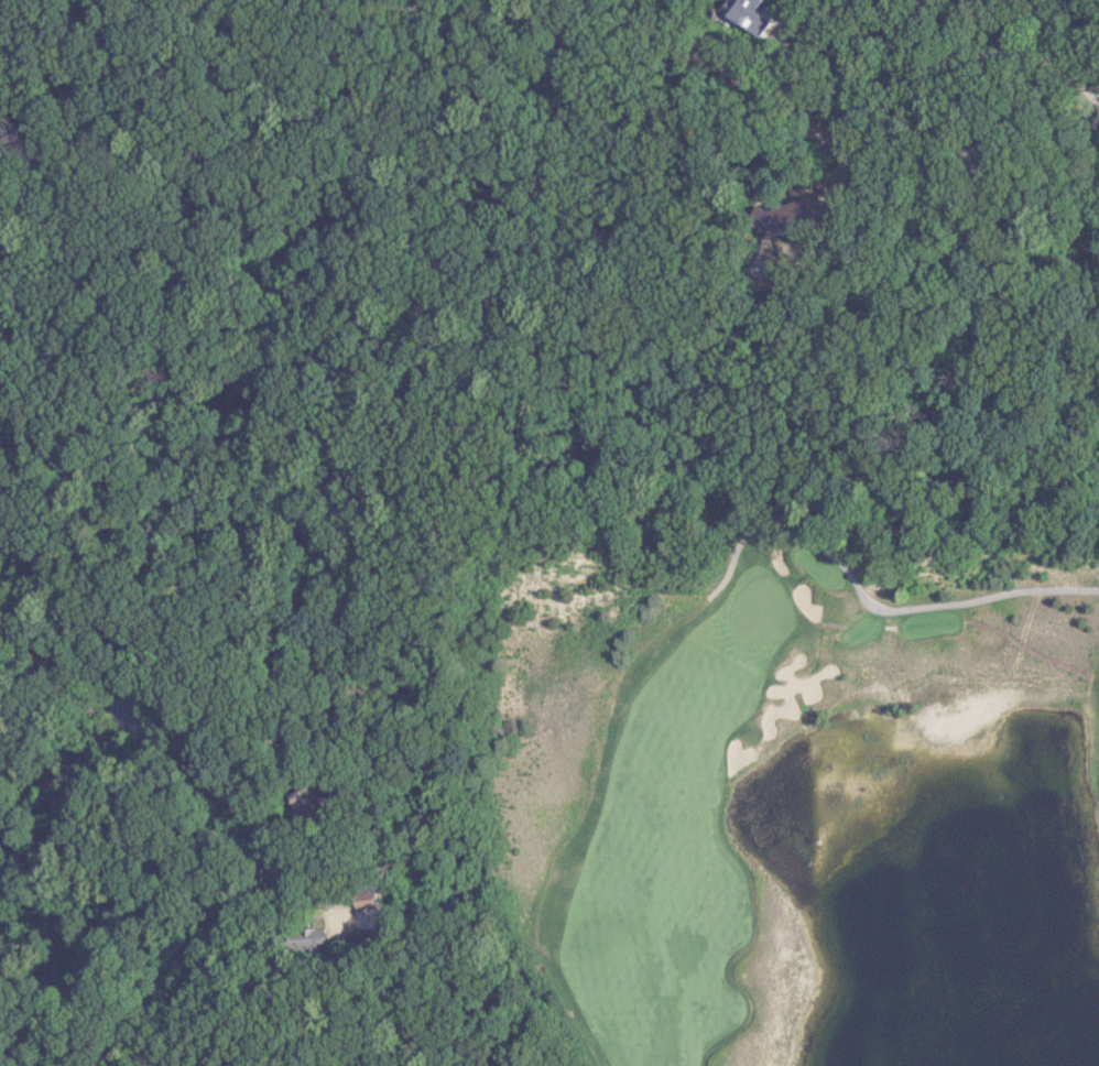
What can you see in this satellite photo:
road: (492, 9)
building: (744, 14)
road: (262, 24)
road: (1031, 35)
road: (863, 106)
road: (881, 603)
road: (824, 621)
road: (882, 624)
road: (1016, 646)
road: (20, 649)
park: (764, 781)
road: (253, 883)

